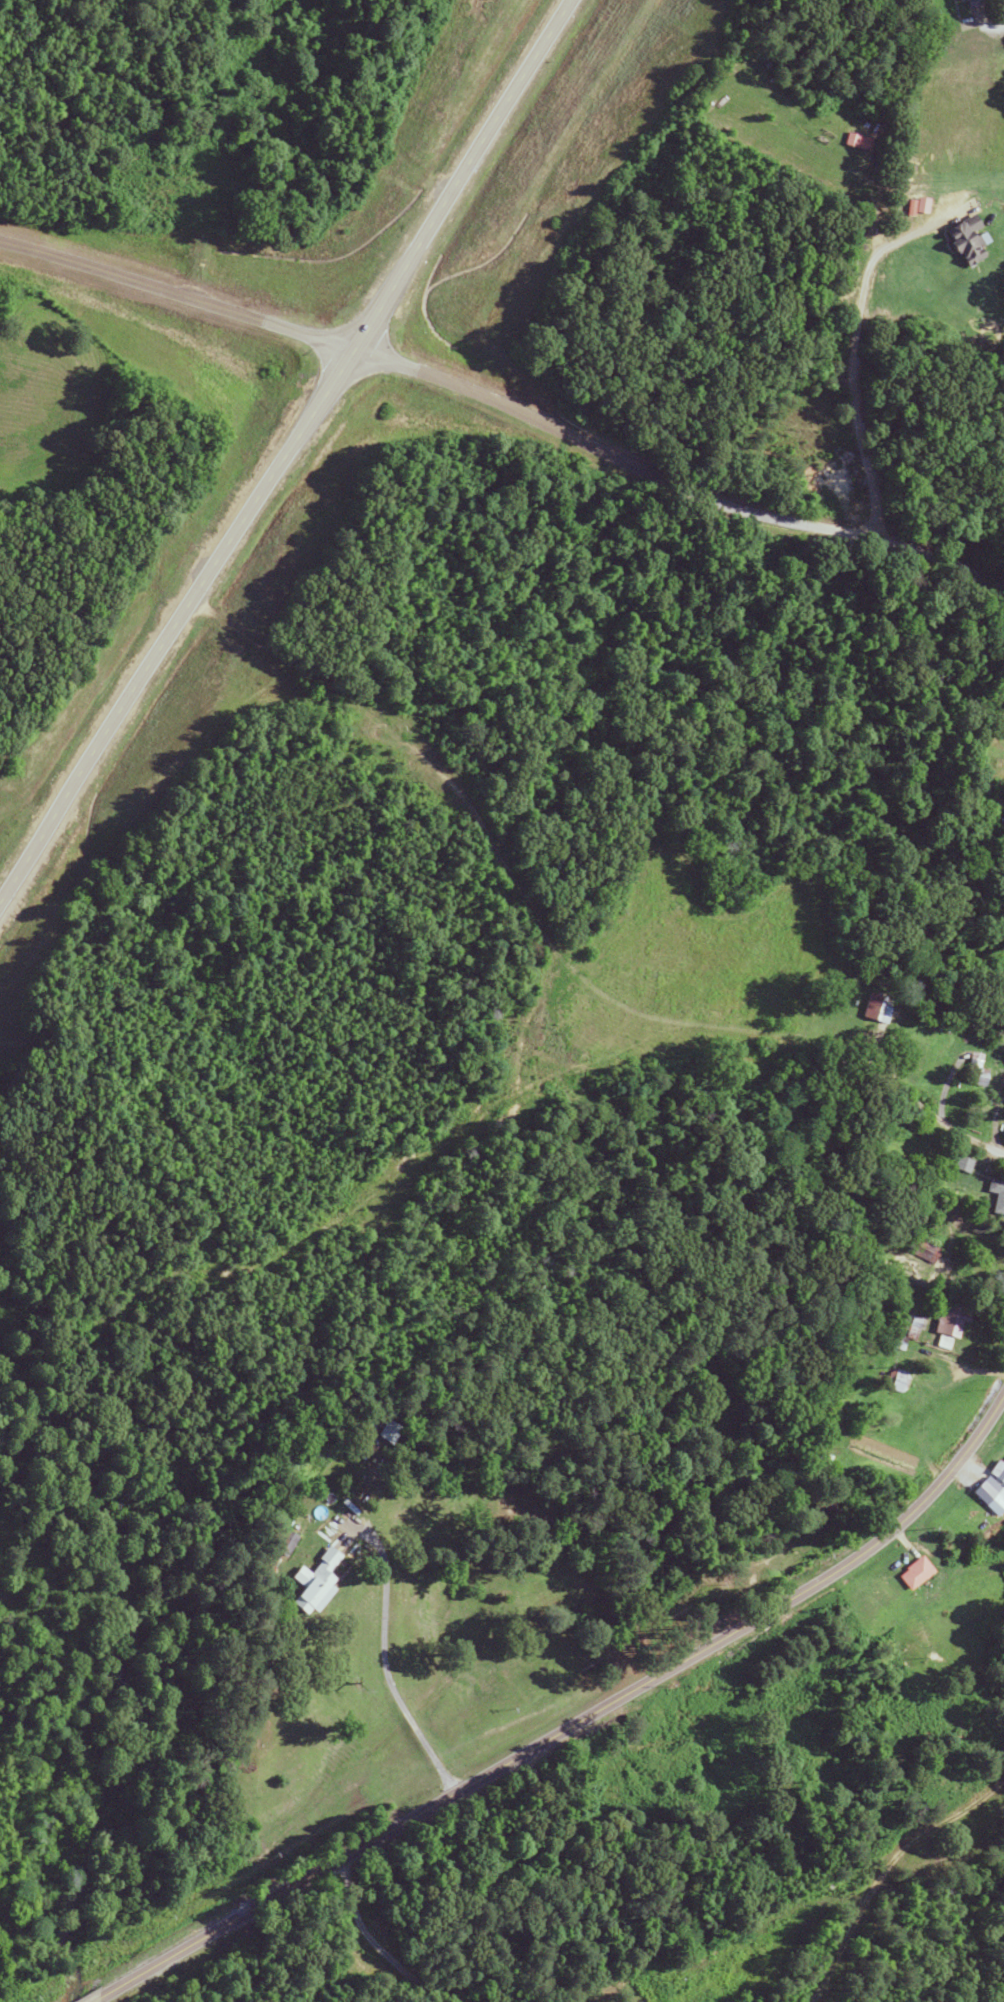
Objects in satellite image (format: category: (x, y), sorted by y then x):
building: (948, 0)
building: (973, 3)
building: (962, 239)
road: (860, 366)
road: (505, 408)
road: (287, 445)
building: (871, 1010)
building: (975, 1071)
road: (894, 1088)
road: (971, 1141)
building: (1002, 1141)
building: (959, 1164)
building: (996, 1195)
building: (893, 1381)
building: (999, 1471)
building: (997, 1505)
building: (914, 1573)
building: (306, 1581)
road: (387, 1665)
road: (640, 1684)
road: (166, 1958)
road: (350, 1965)
road: (95, 2000)

